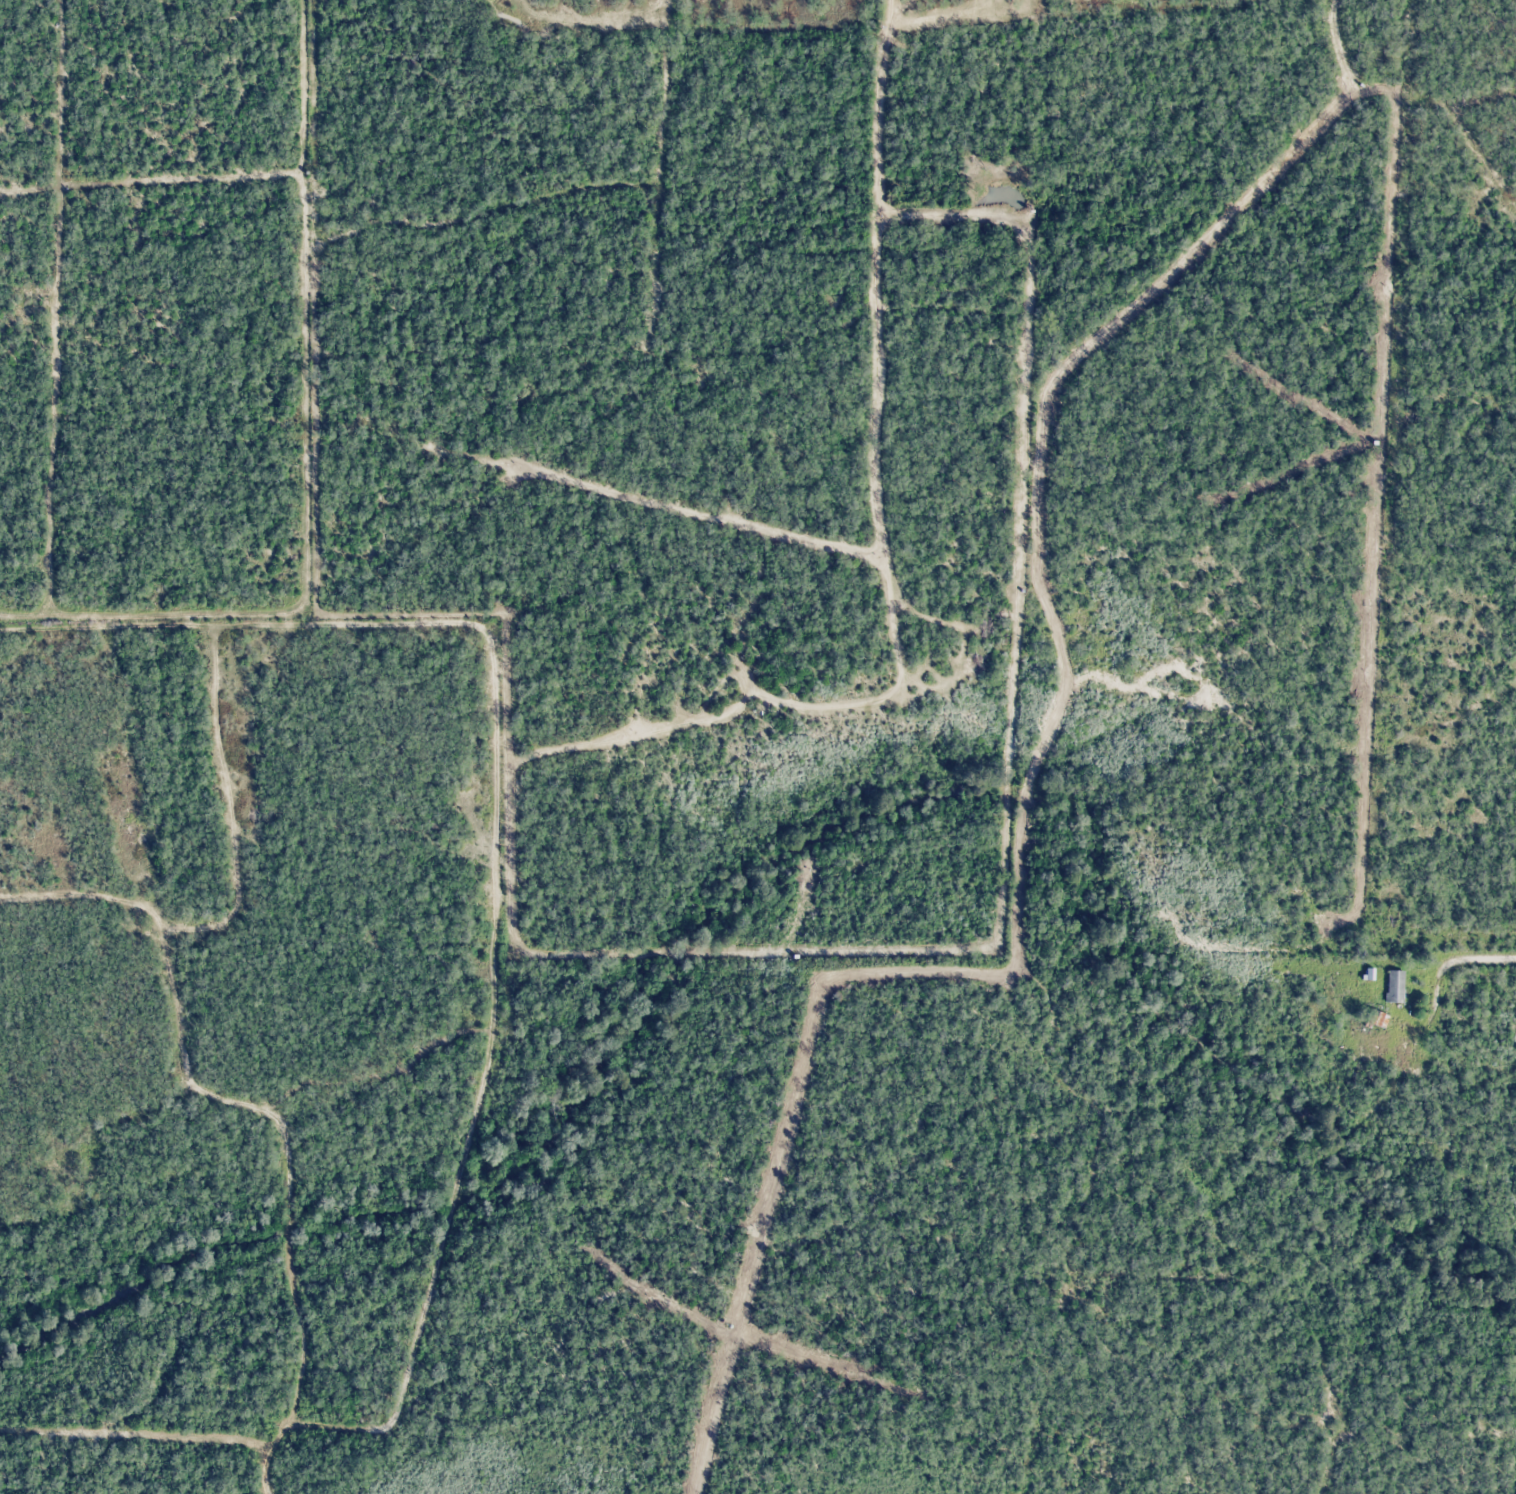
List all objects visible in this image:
building: (1396, 985)

